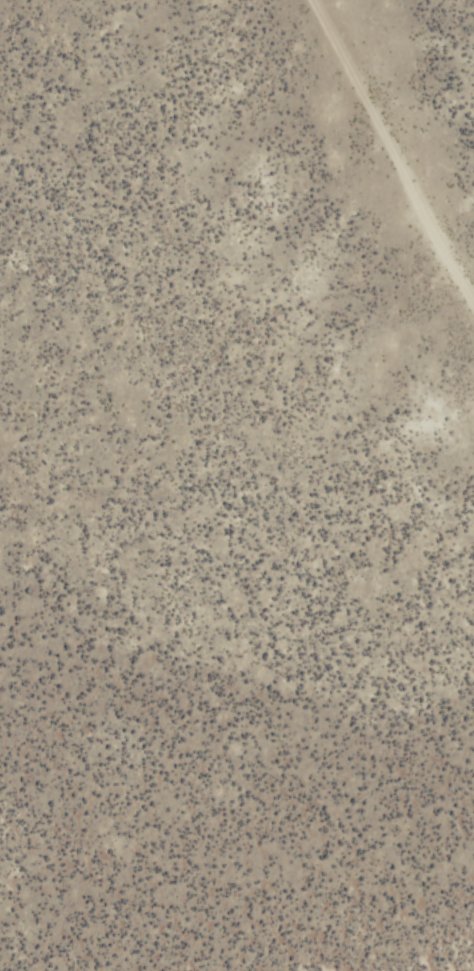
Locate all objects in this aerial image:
road: (399, 132)

